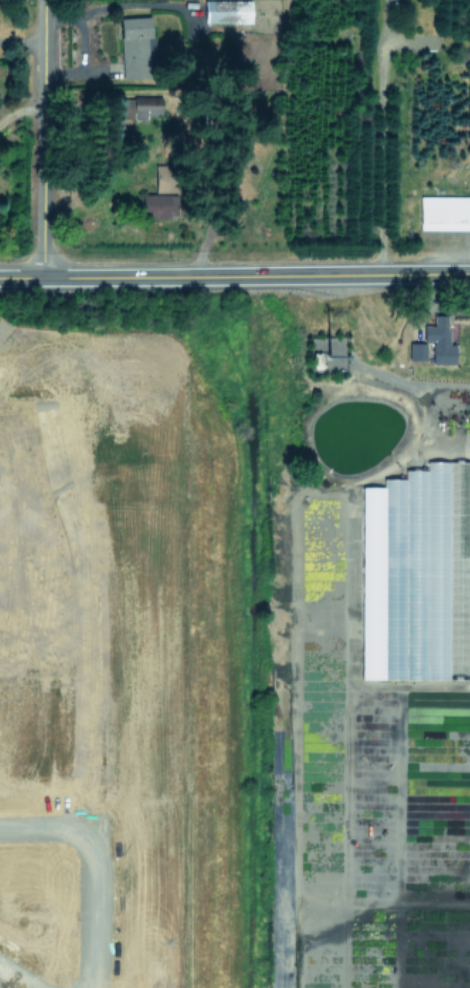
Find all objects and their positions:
road: (95, 3)
building: (226, 11)
road: (21, 40)
building: (136, 47)
building: (126, 104)
building: (145, 106)
road: (19, 111)
road: (41, 138)
road: (383, 142)
building: (164, 178)
building: (157, 205)
building: (444, 212)
road: (235, 276)
building: (439, 340)
building: (416, 350)
building: (425, 484)
crop: (128, 635)
road: (96, 654)
road: (48, 655)
road: (47, 825)

